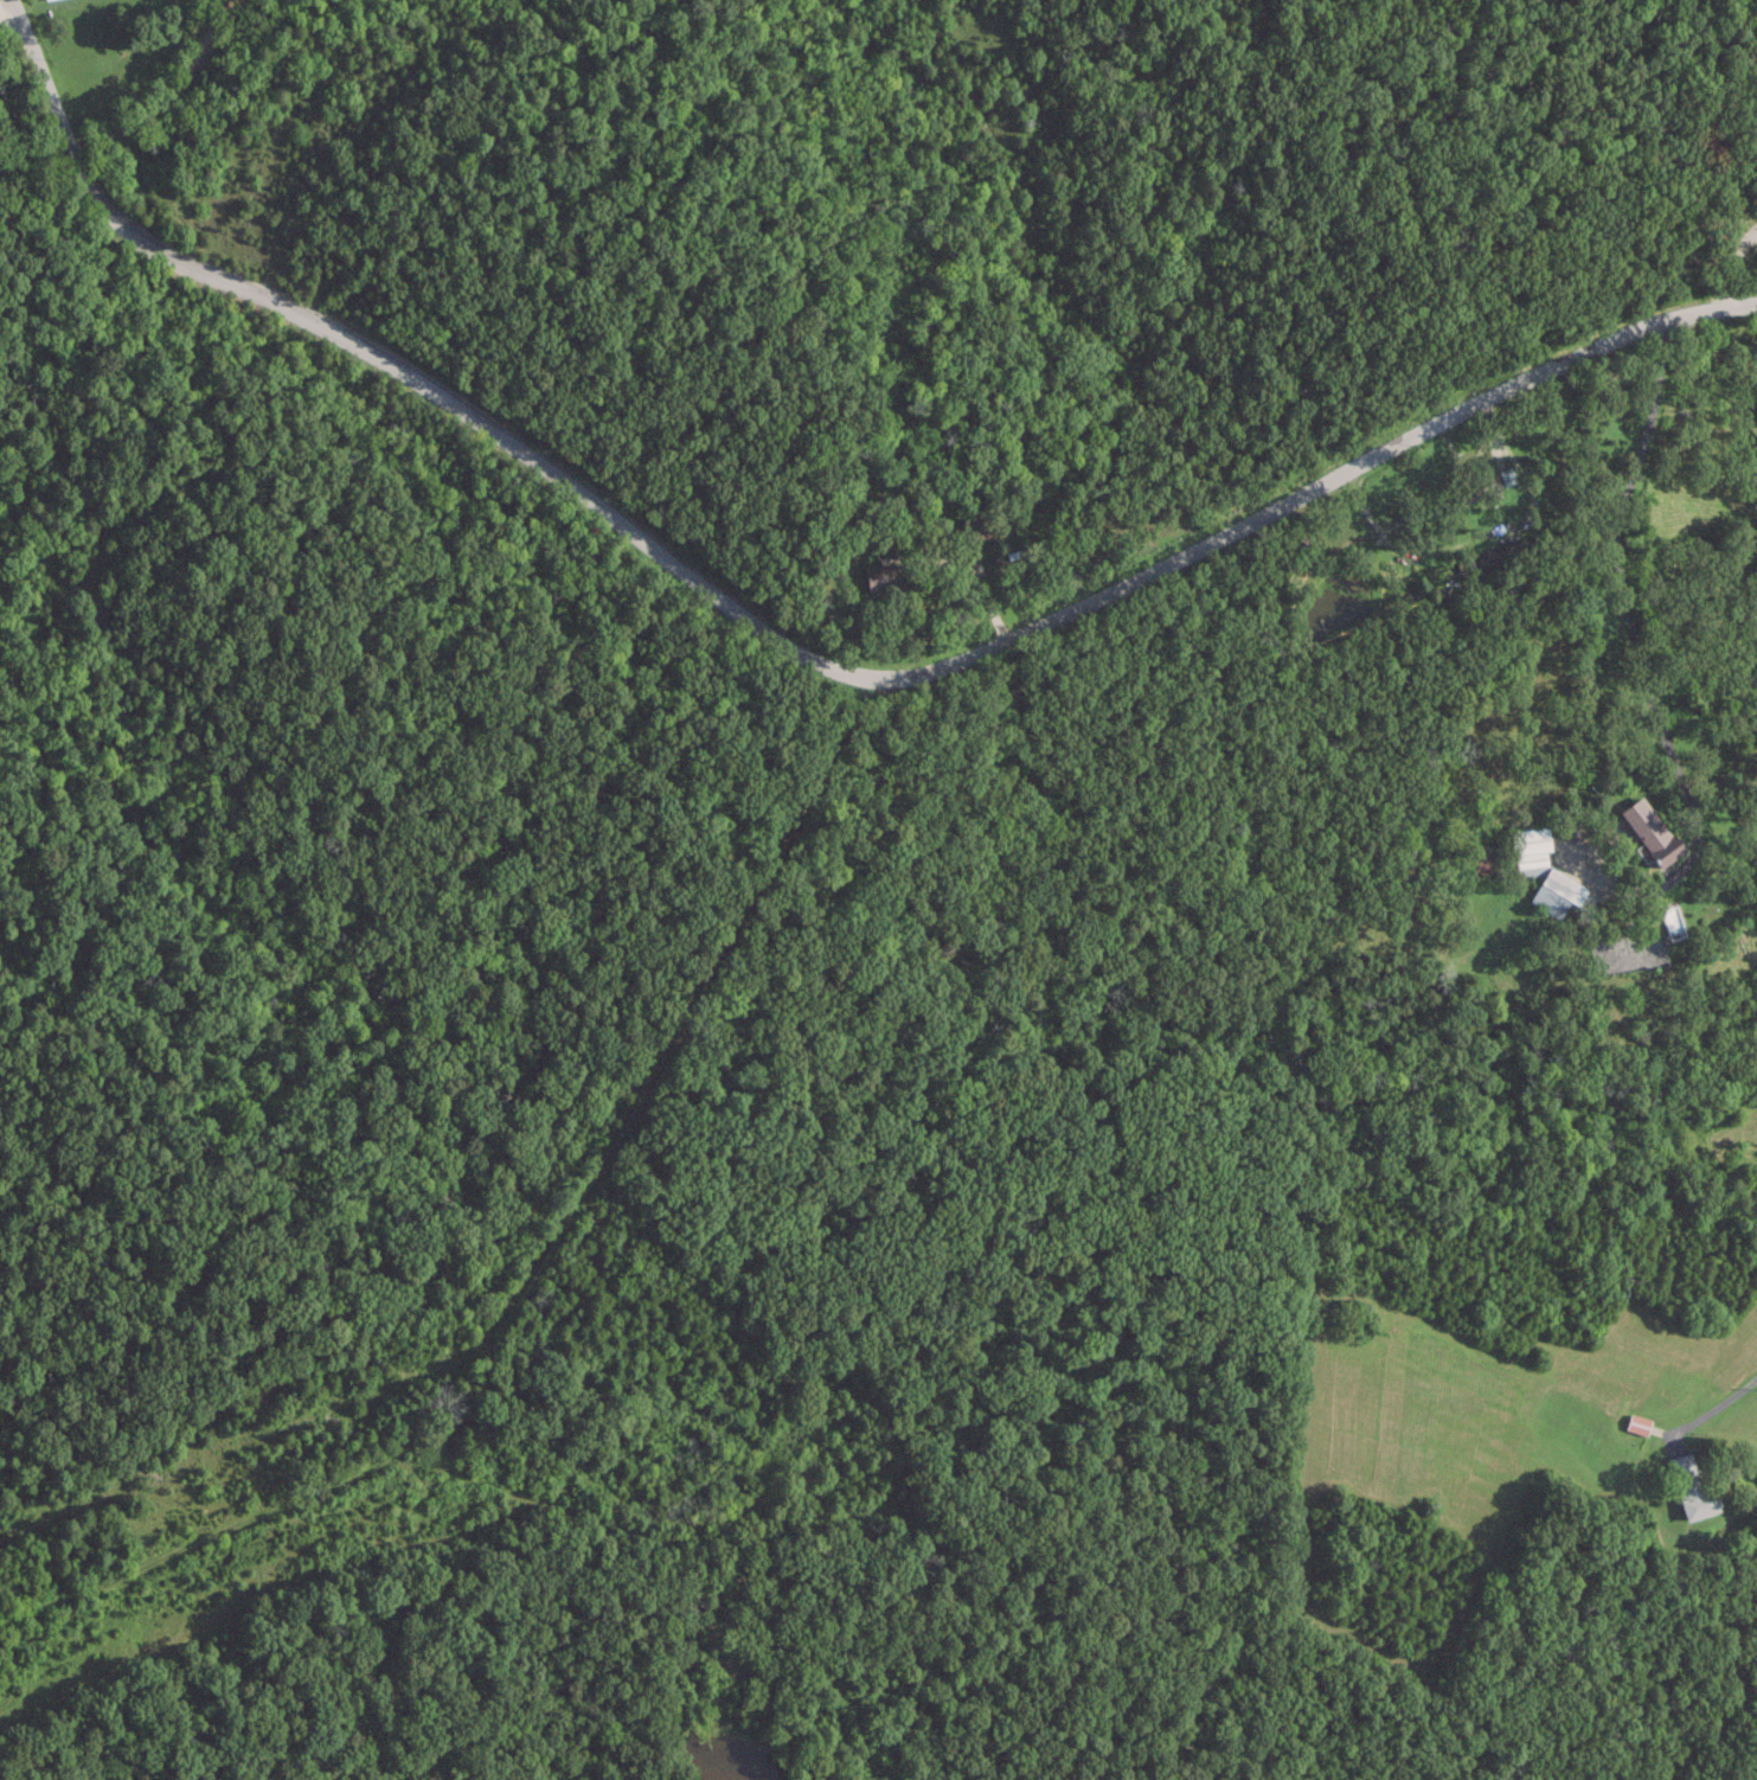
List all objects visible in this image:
road: (6, 12)
road: (1729, 265)
building: (1469, 489)
building: (877, 576)
road: (793, 646)
road: (1639, 647)
road: (418, 649)
building: (1640, 824)
building: (1527, 849)
building: (1476, 860)
building: (1553, 892)
road: (554, 1281)
road: (1719, 1402)
building: (1634, 1422)
building: (1686, 1484)

